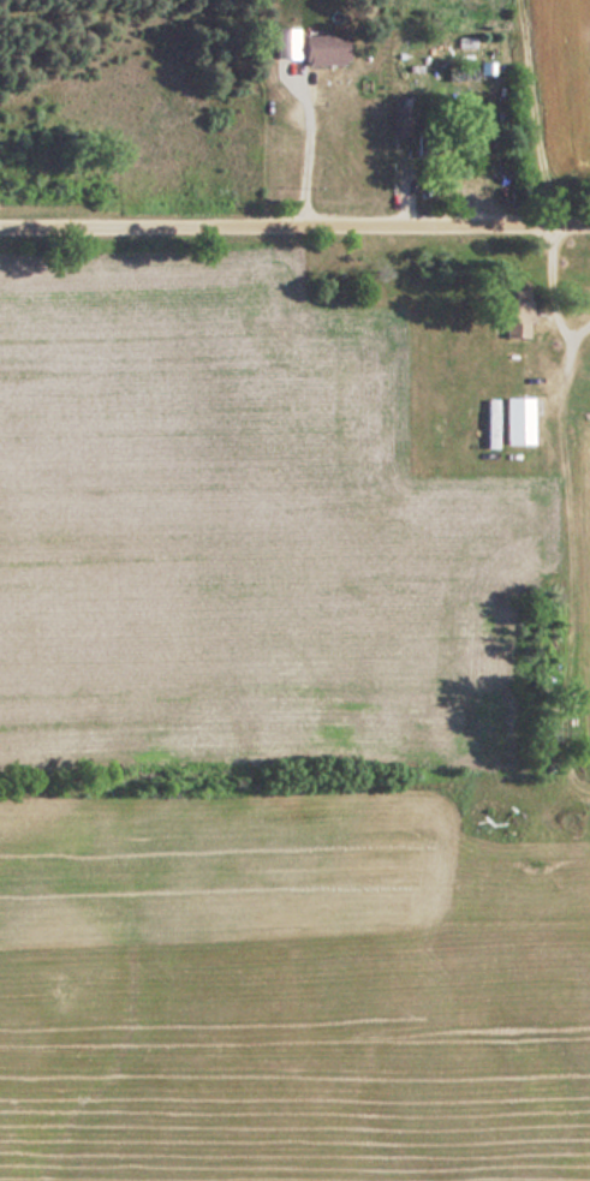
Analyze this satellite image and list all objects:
building: (320, 50)
building: (398, 123)
road: (294, 228)
building: (509, 314)
building: (514, 419)
building: (488, 423)

